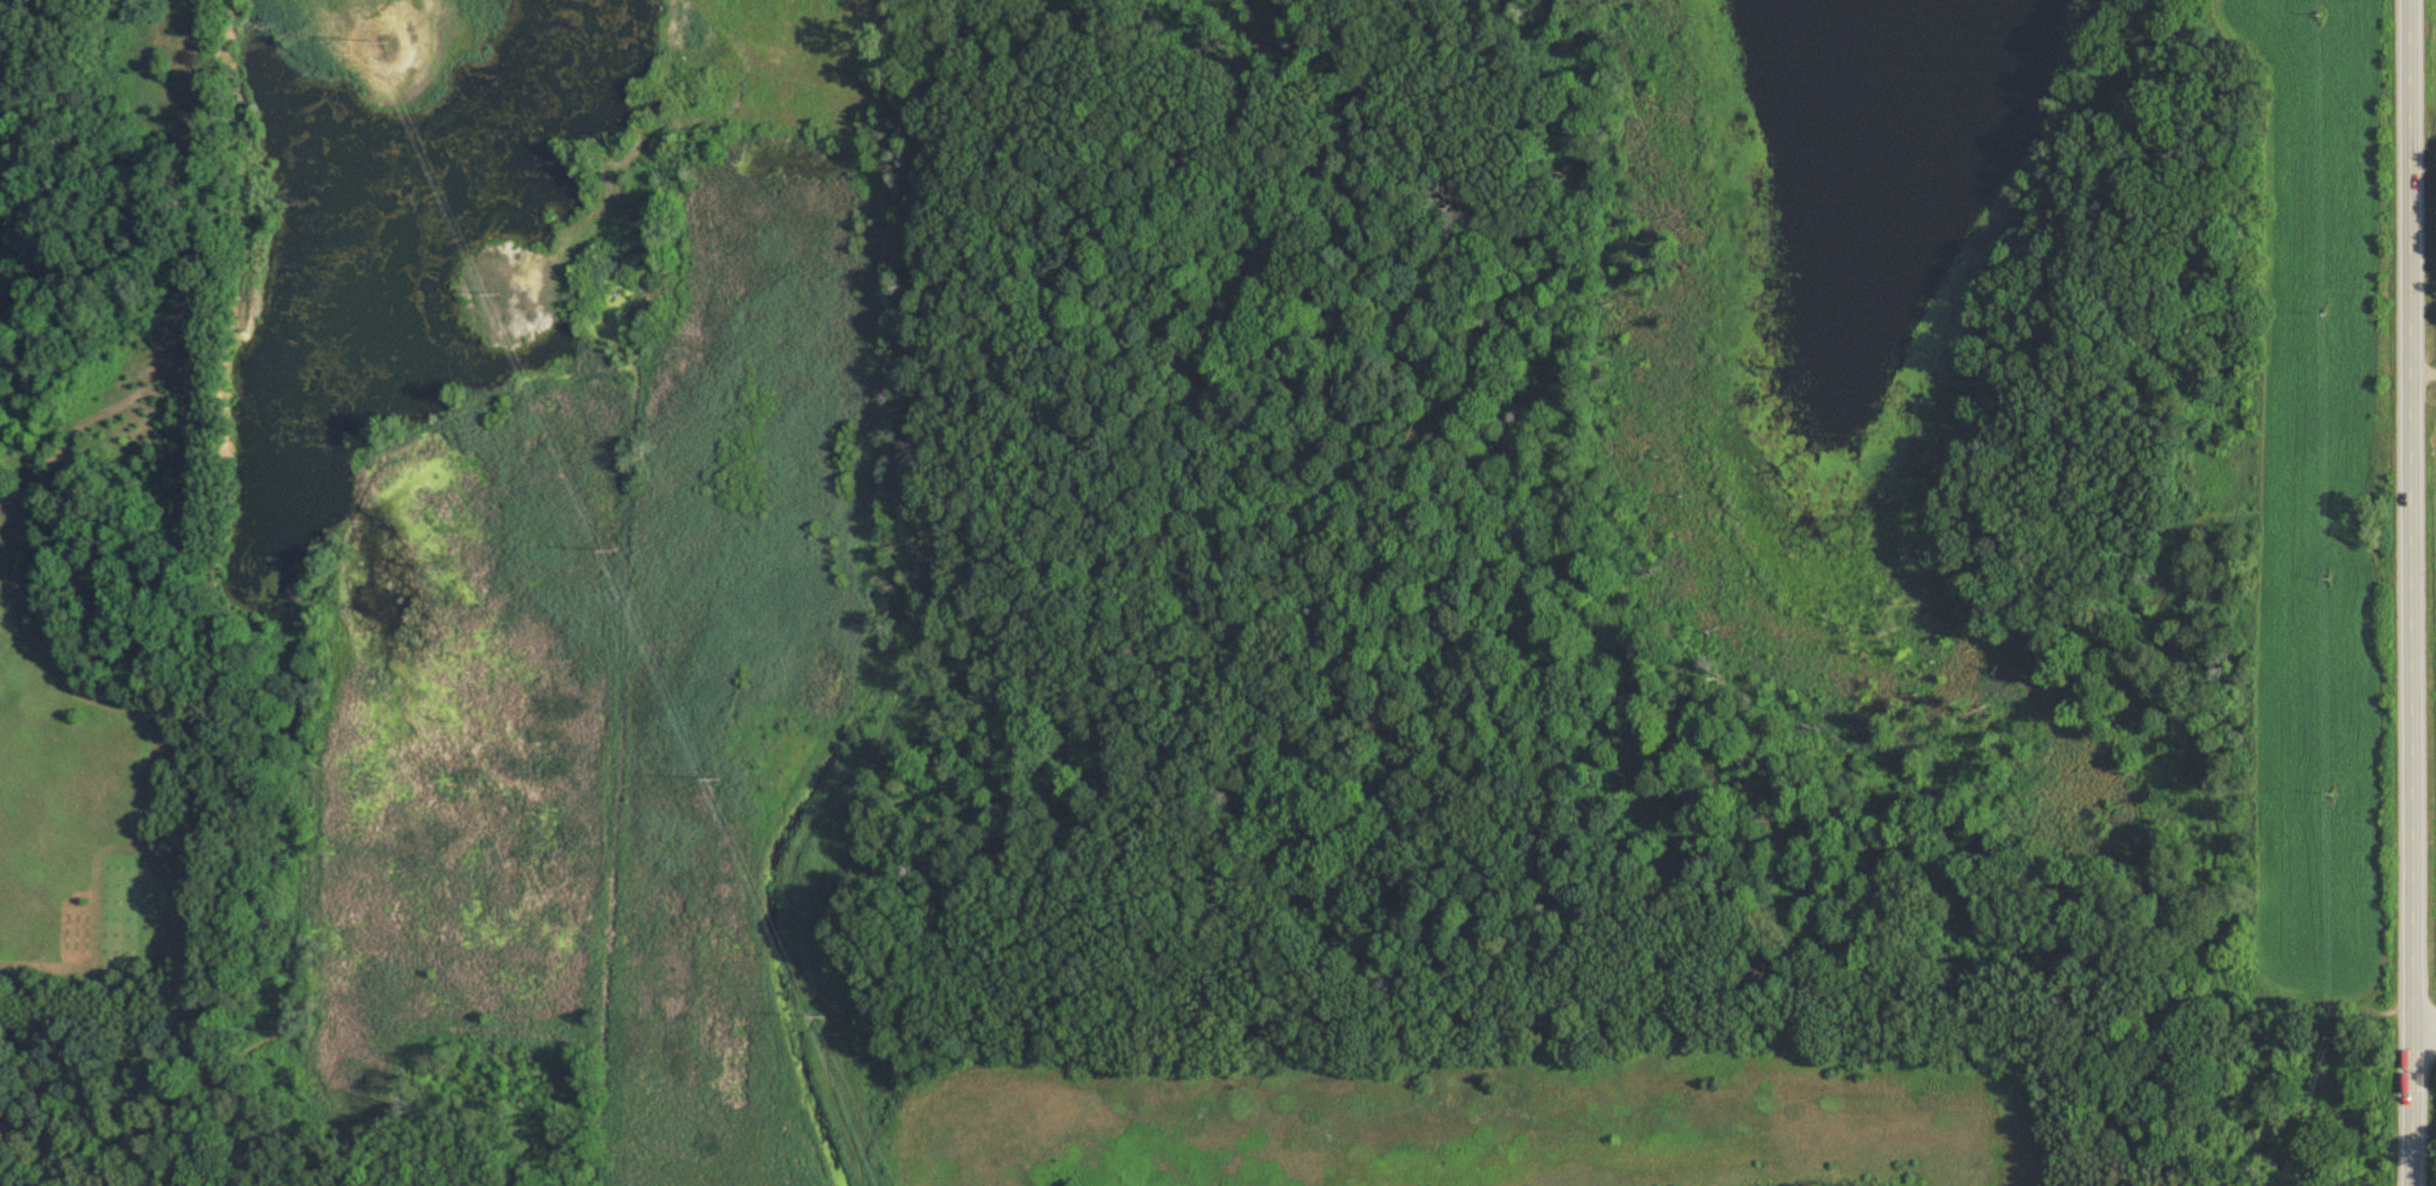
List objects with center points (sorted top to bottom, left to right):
road: (2418, 592)
road: (2429, 1026)

